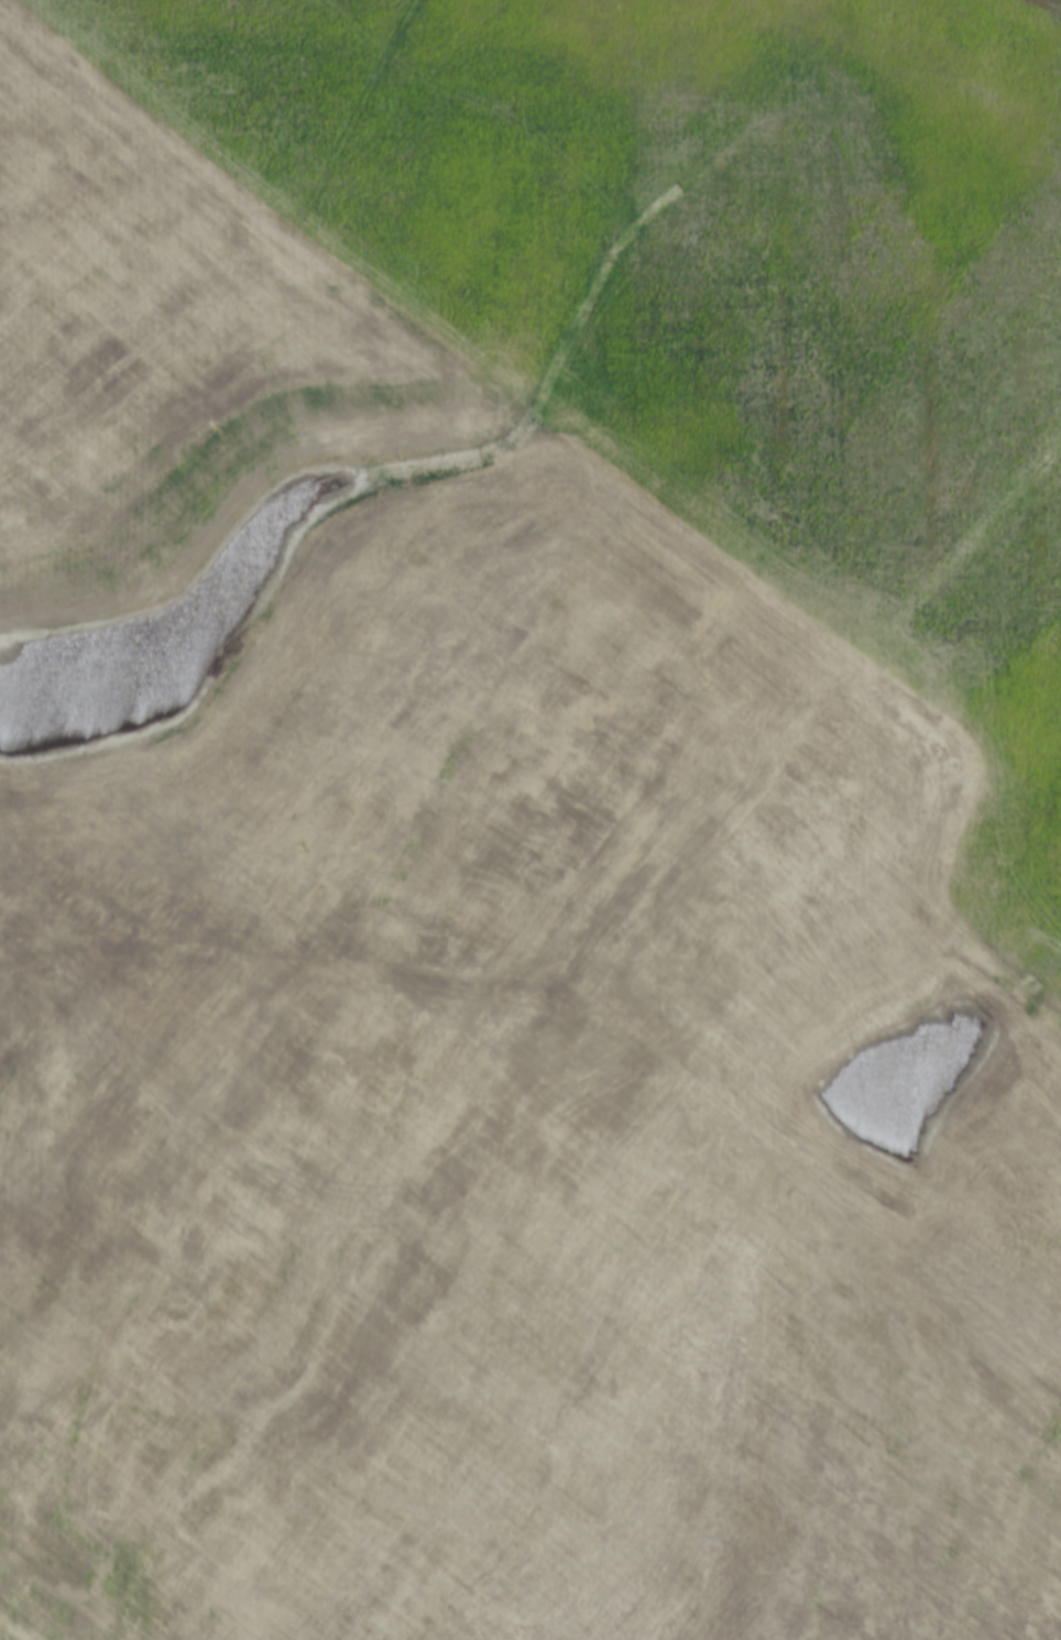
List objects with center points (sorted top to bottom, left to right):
road: (539, 1247)

